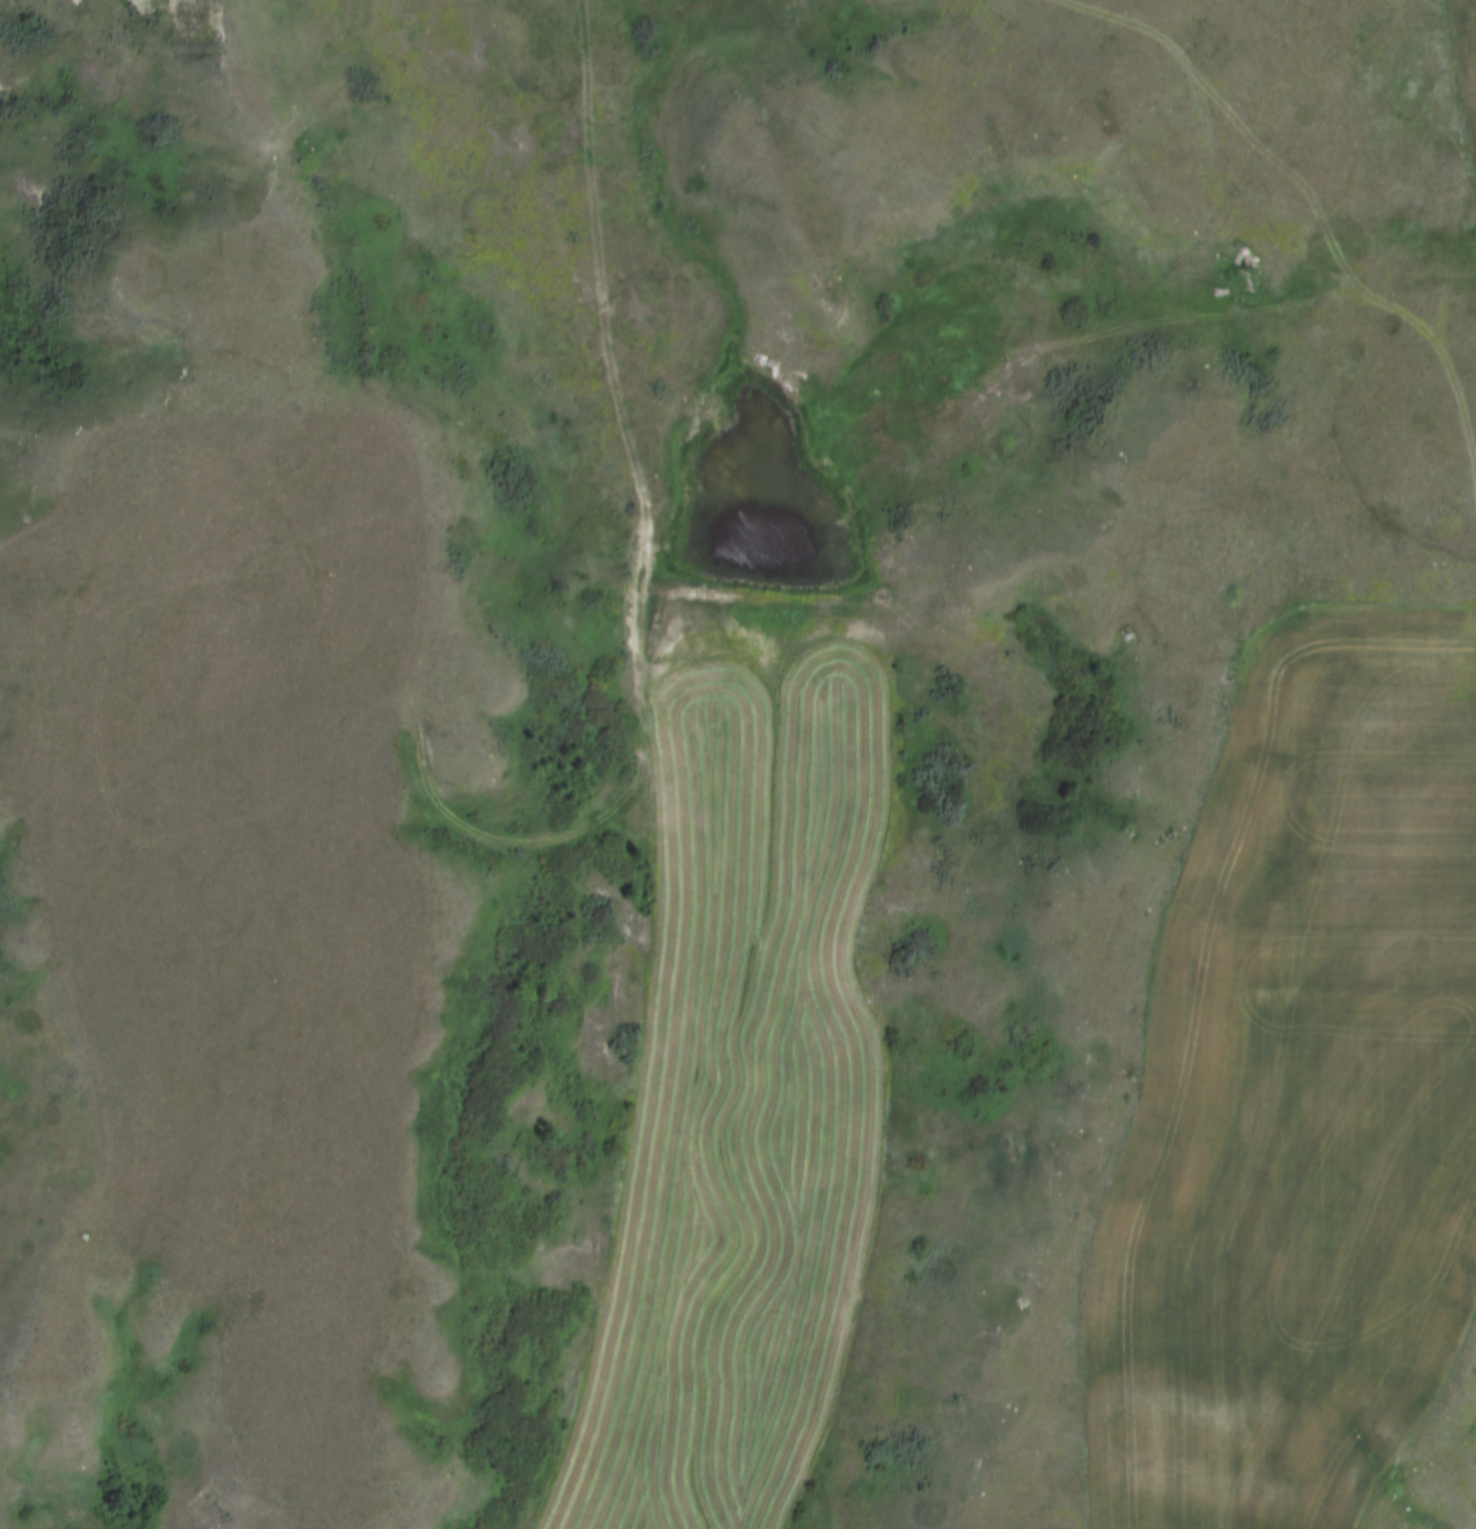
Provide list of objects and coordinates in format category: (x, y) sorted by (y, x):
road: (1261, 231)
road: (645, 557)

